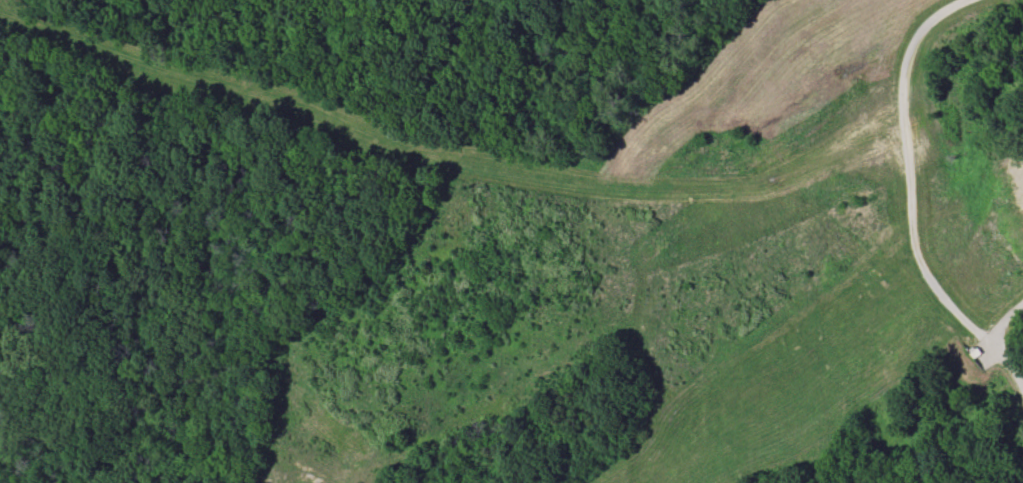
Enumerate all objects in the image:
road: (908, 169)
road: (992, 343)

